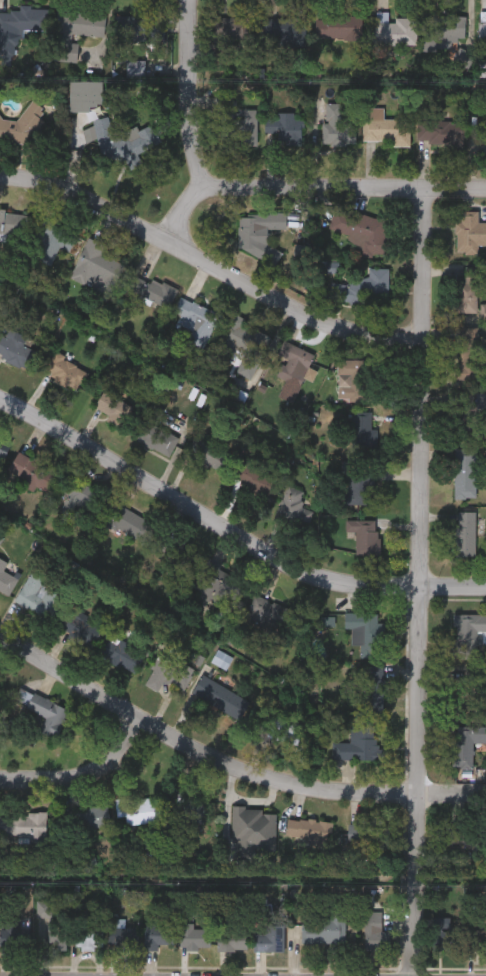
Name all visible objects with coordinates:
building: (20, 23)
building: (339, 26)
building: (139, 27)
building: (230, 27)
building: (482, 27)
building: (283, 28)
building: (395, 28)
building: (444, 28)
building: (74, 31)
building: (134, 67)
building: (84, 94)
road: (186, 95)
building: (22, 124)
building: (337, 125)
building: (384, 126)
building: (282, 127)
building: (240, 131)
building: (100, 133)
building: (441, 133)
road: (311, 186)
building: (13, 225)
building: (366, 232)
building: (469, 232)
building: (248, 237)
building: (53, 238)
road: (211, 263)
building: (96, 266)
building: (363, 286)
building: (152, 289)
building: (468, 290)
building: (483, 312)
building: (196, 320)
building: (246, 346)
building: (18, 348)
building: (469, 357)
building: (288, 362)
building: (65, 370)
building: (349, 378)
building: (112, 408)
building: (468, 415)
building: (364, 428)
building: (156, 437)
building: (2, 452)
building: (206, 453)
building: (465, 473)
building: (33, 474)
building: (255, 477)
building: (358, 485)
building: (81, 497)
building: (292, 510)
building: (127, 523)
road: (230, 531)
building: (364, 534)
building: (465, 534)
building: (174, 550)
building: (8, 578)
road: (416, 582)
building: (218, 584)
building: (37, 596)
building: (266, 611)
building: (325, 620)
building: (81, 625)
building: (365, 631)
building: (468, 635)
building: (122, 654)
building: (221, 658)
building: (0, 673)
building: (167, 675)
building: (374, 683)
building: (466, 688)
building: (220, 697)
building: (39, 704)
building: (359, 744)
building: (462, 748)
road: (228, 763)
road: (82, 786)
building: (191, 807)
building: (137, 810)
building: (89, 817)
building: (23, 826)
building: (254, 828)
building: (308, 830)
building: (368, 835)
building: (52, 925)
building: (325, 928)
building: (375, 933)
building: (158, 934)
building: (122, 935)
building: (191, 936)
building: (88, 938)
building: (445, 938)
building: (231, 939)
building: (268, 939)
building: (476, 940)

